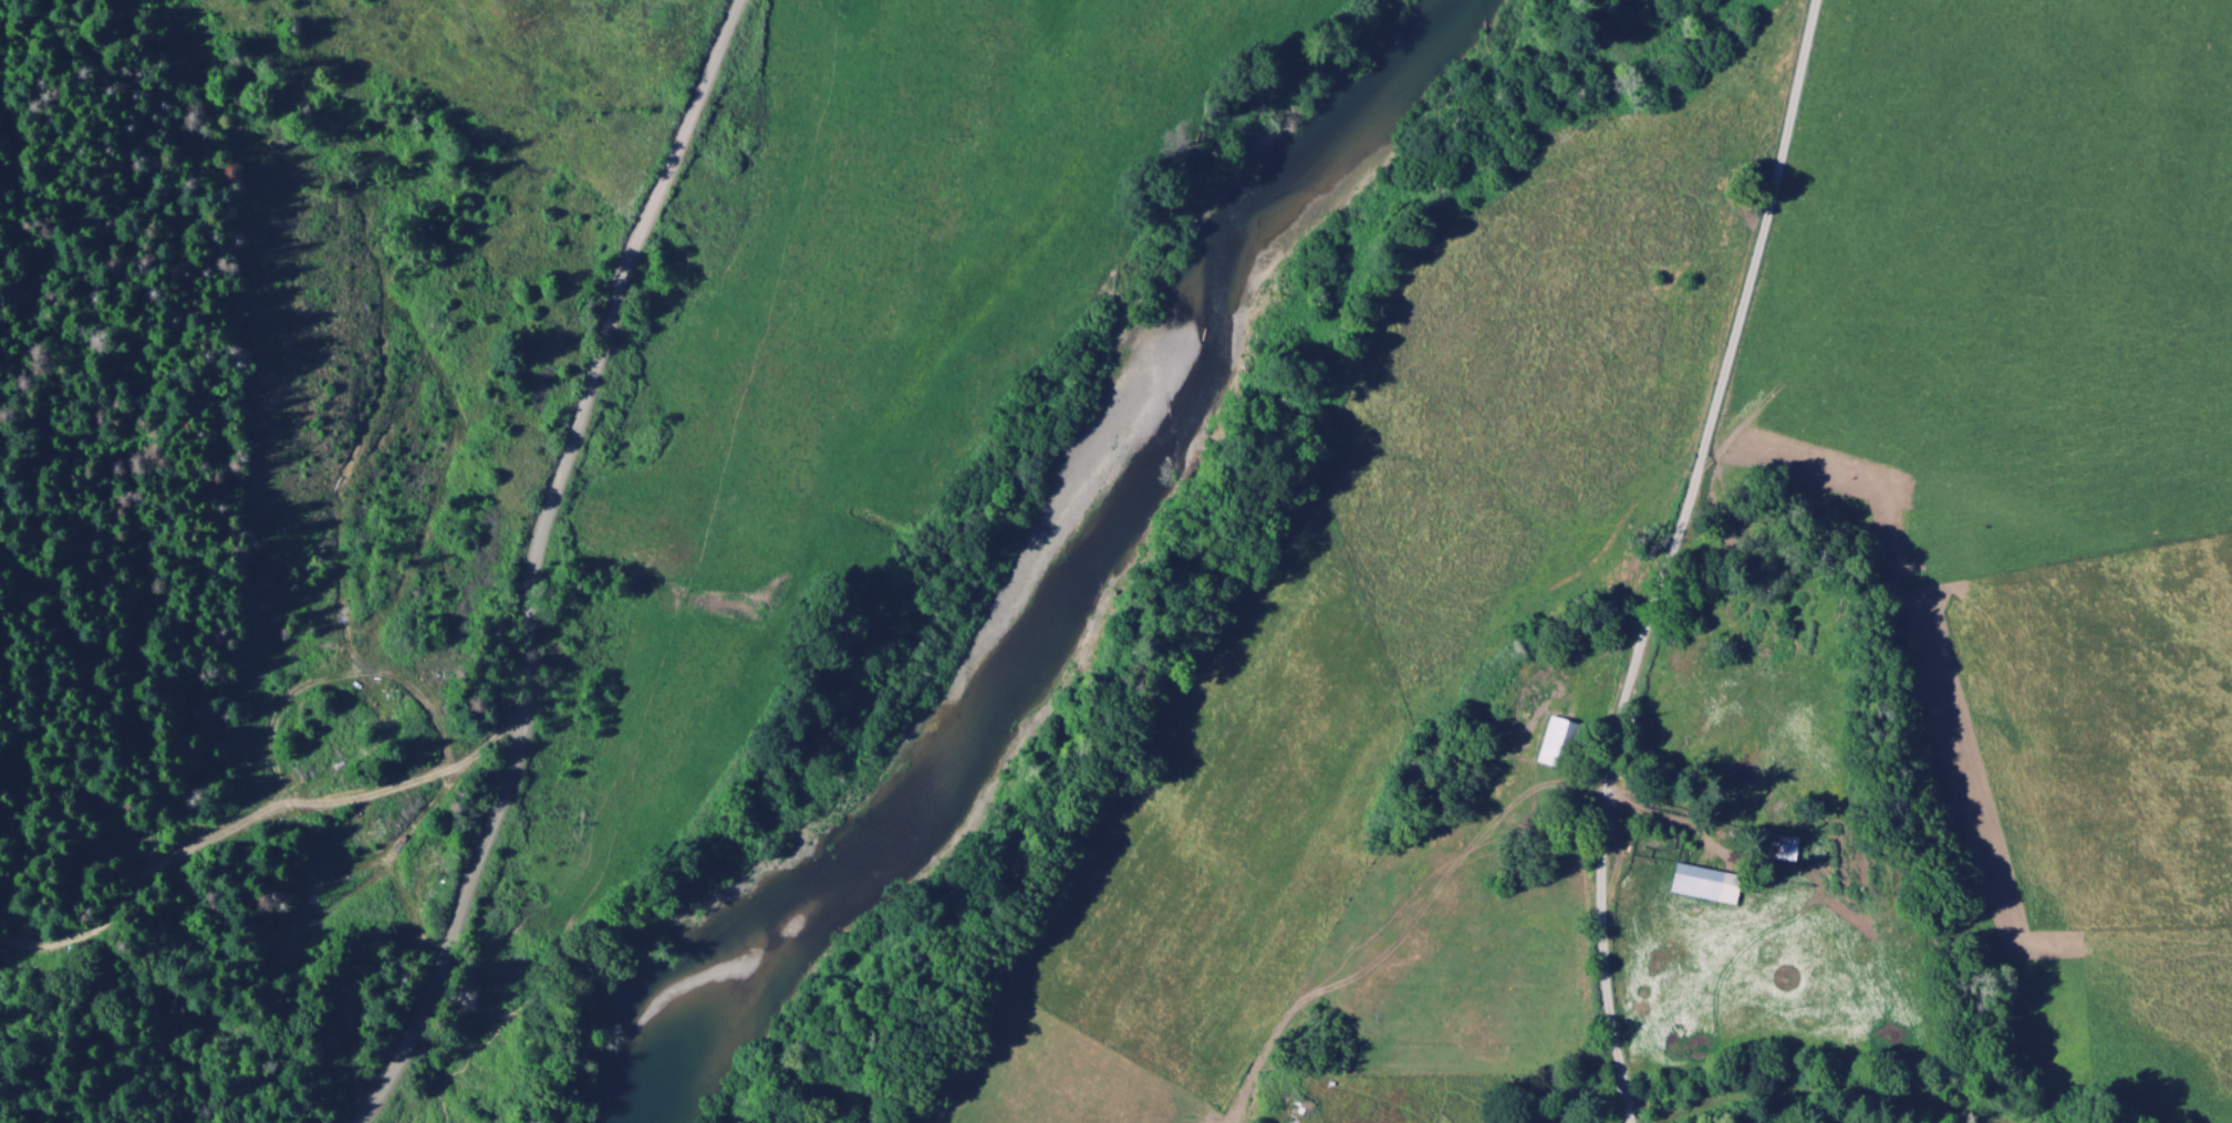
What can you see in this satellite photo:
road: (1797, 55)
road: (533, 562)
river: (1048, 571)
road: (1648, 612)
building: (1549, 744)
road: (251, 820)
building: (1771, 848)
building: (1695, 885)
road: (1826, 1095)

